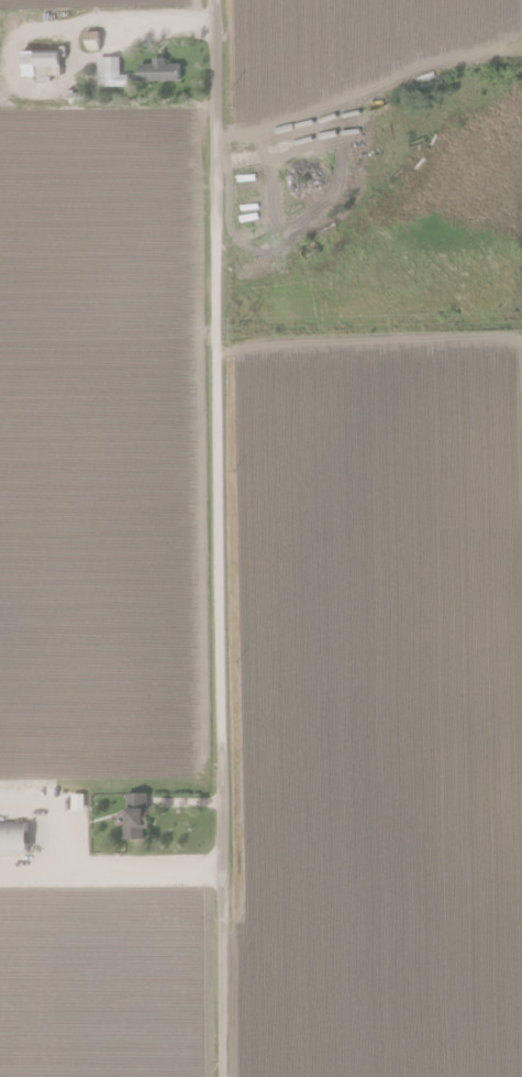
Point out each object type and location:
building: (41, 63)
building: (158, 72)
building: (104, 73)
power tower: (237, 327)
road: (222, 538)
building: (135, 816)
building: (13, 837)

